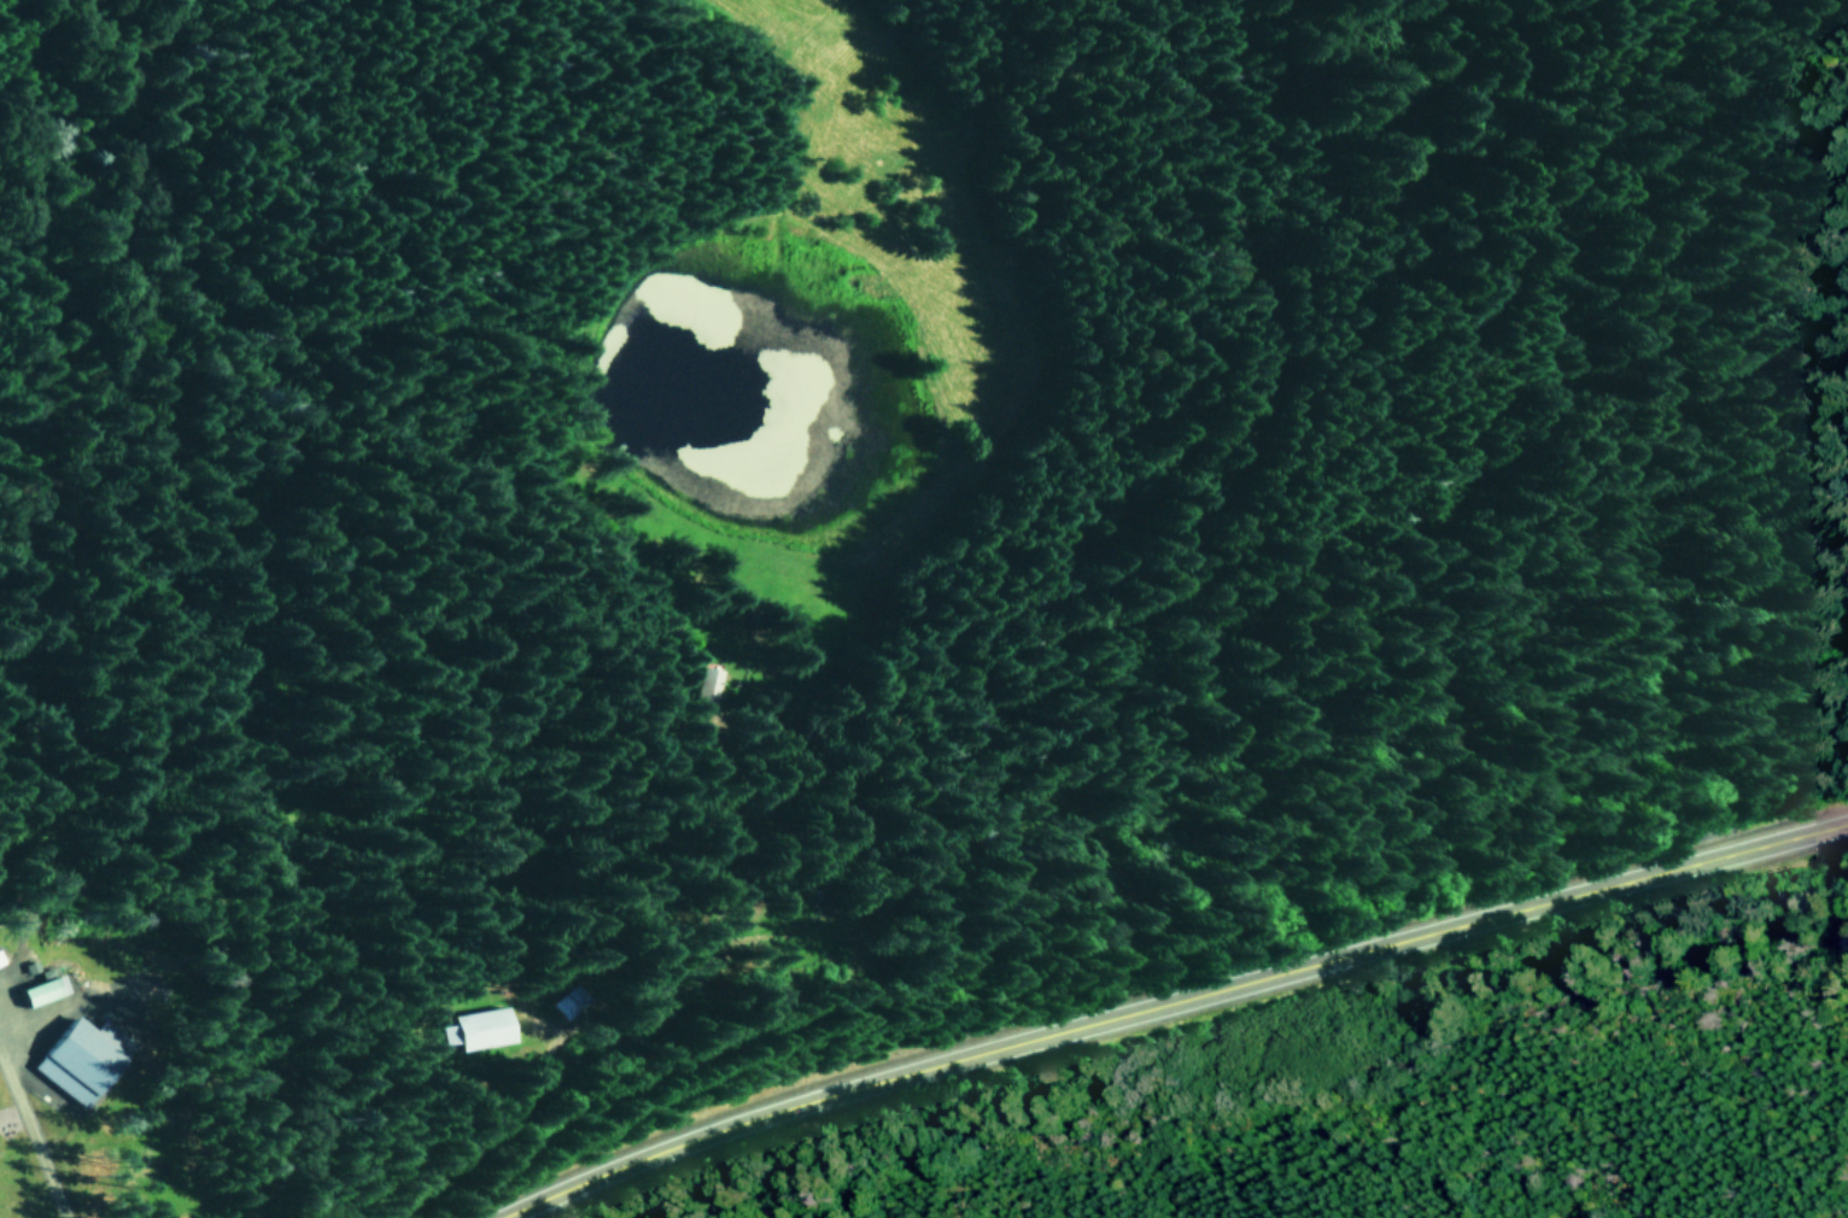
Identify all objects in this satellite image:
building: (37, 989)
road: (1154, 997)
building: (462, 1027)
building: (76, 1056)
crop: (1364, 1081)
road: (30, 1129)

